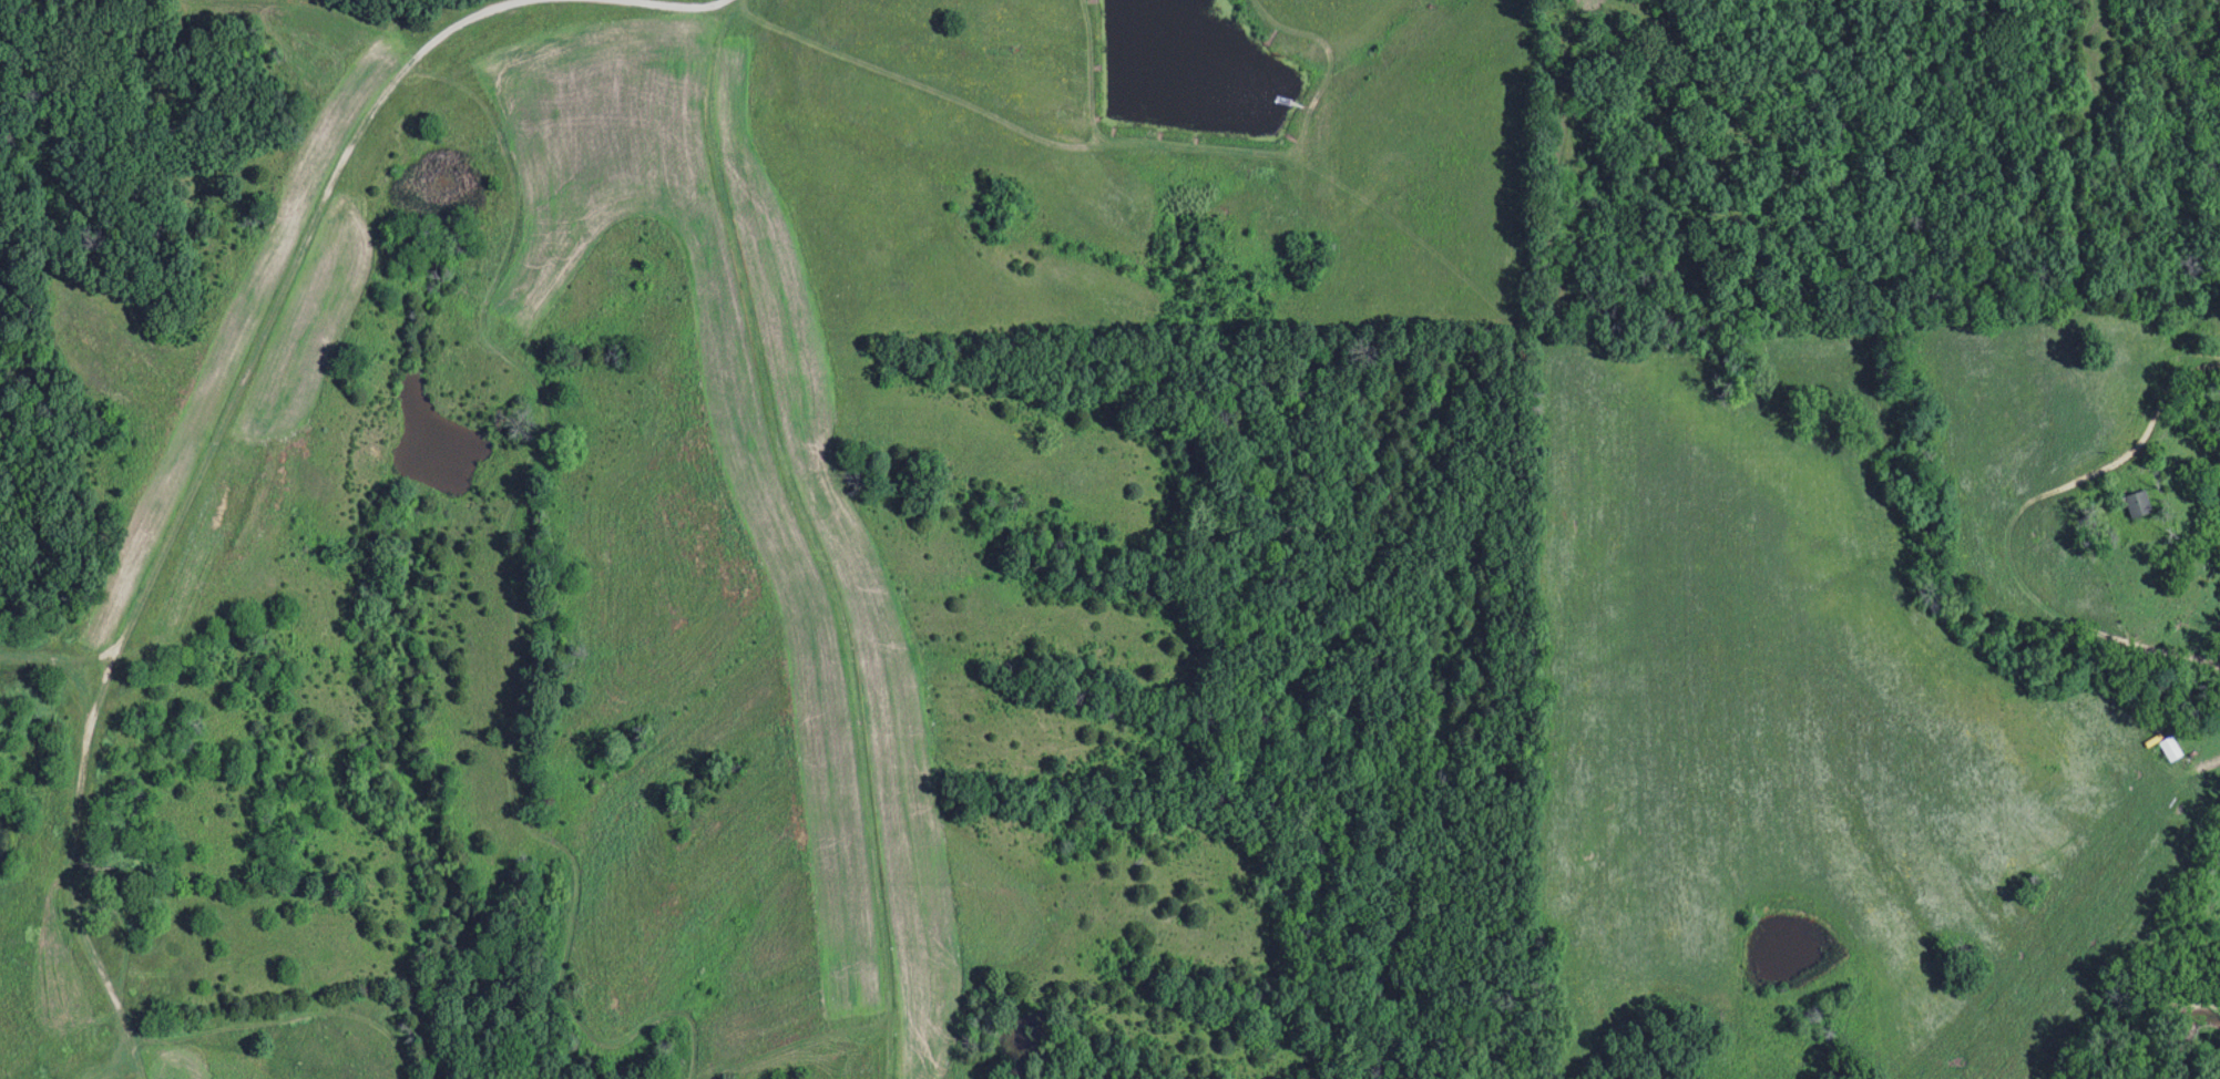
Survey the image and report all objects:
building: (2137, 504)
road: (2054, 515)
building: (2169, 749)
road: (2212, 764)

